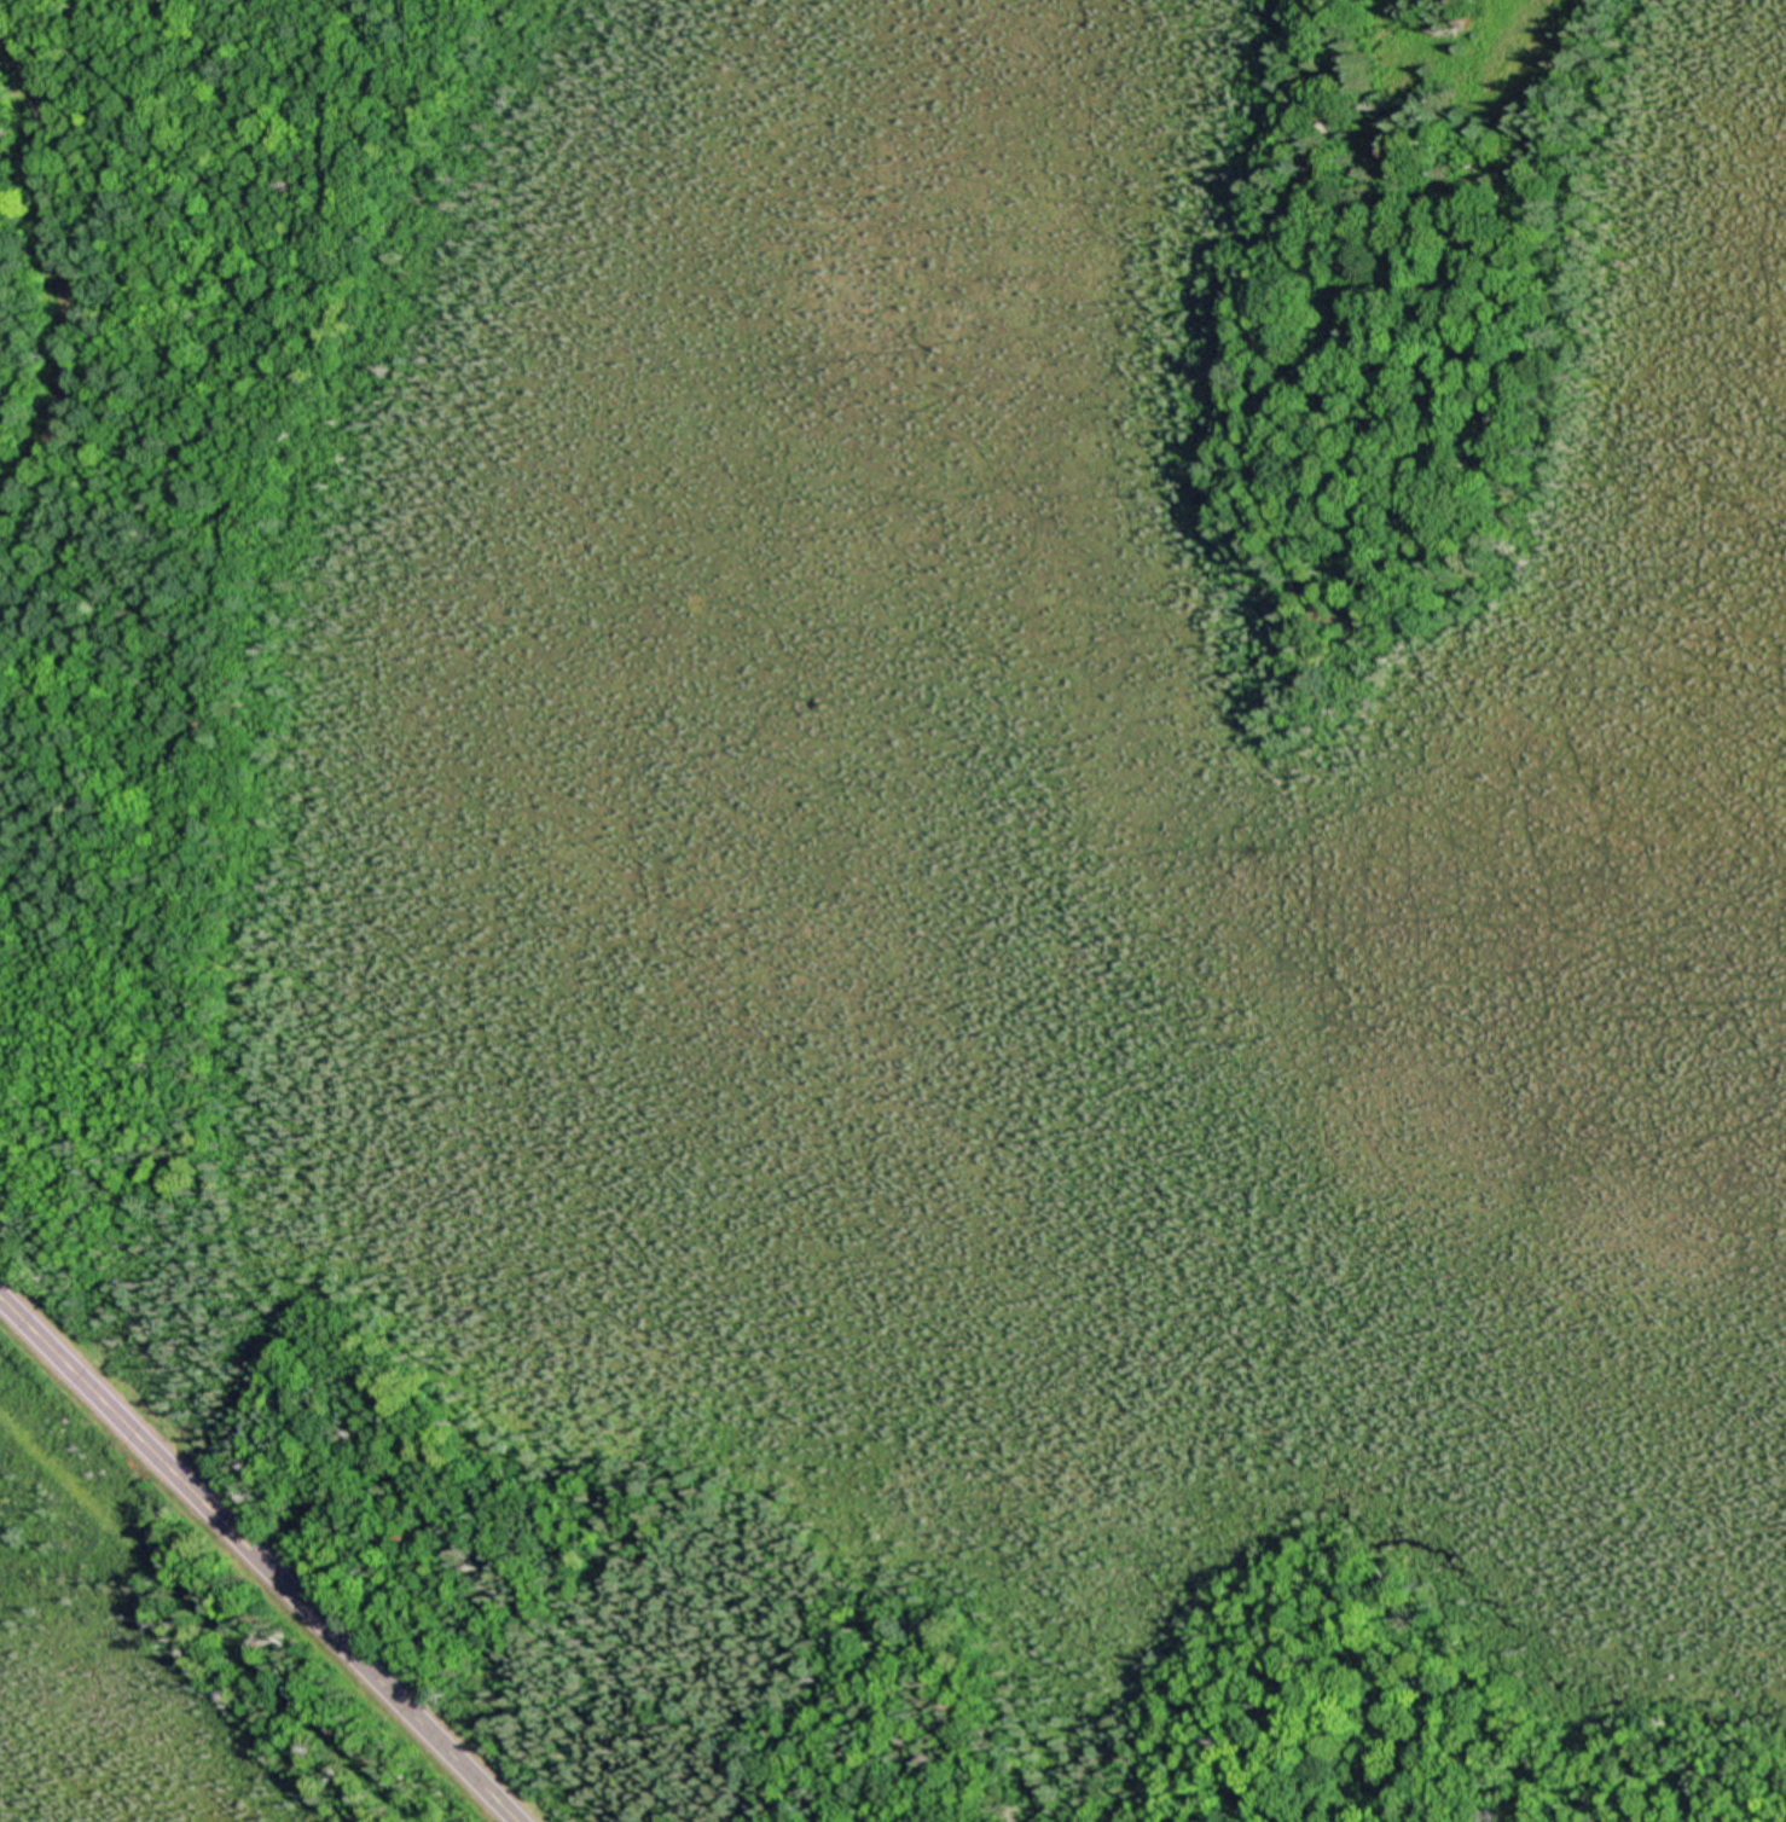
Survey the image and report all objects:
road: (261, 1557)

